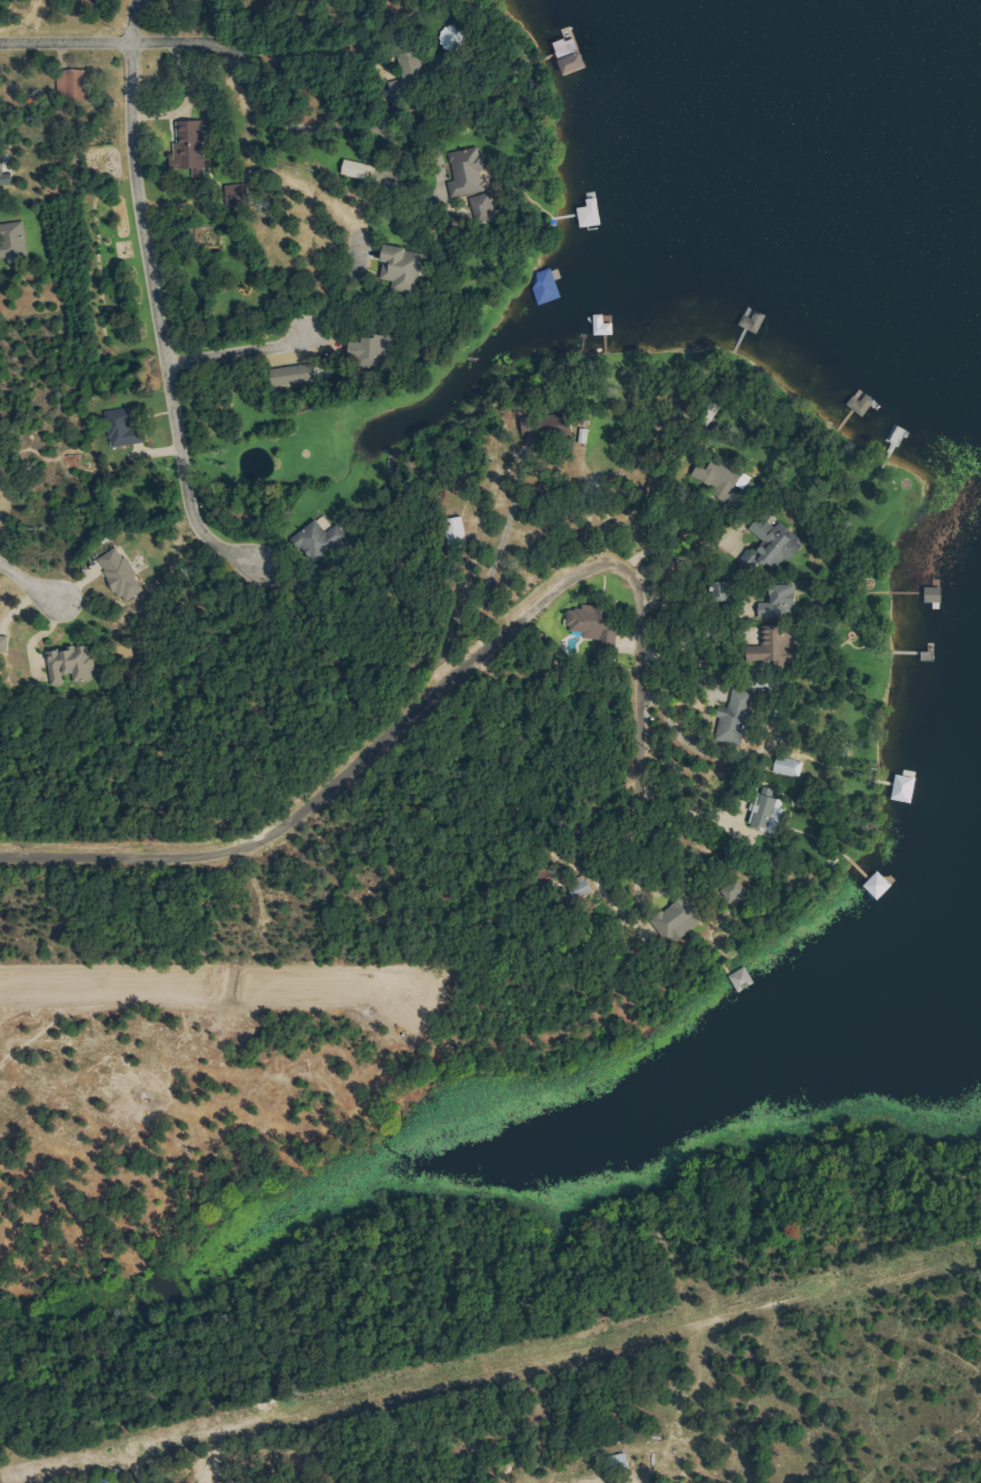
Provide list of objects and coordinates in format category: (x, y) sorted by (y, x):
road: (151, 41)
building: (574, 56)
building: (75, 83)
building: (192, 144)
building: (359, 170)
building: (470, 172)
building: (484, 205)
building: (593, 214)
building: (14, 241)
building: (404, 267)
building: (549, 287)
road: (151, 295)
building: (605, 326)
building: (373, 347)
road: (239, 352)
building: (292, 379)
building: (864, 404)
building: (127, 429)
building: (720, 475)
building: (779, 542)
building: (123, 574)
building: (726, 588)
building: (783, 600)
building: (590, 620)
building: (5, 643)
building: (779, 644)
building: (72, 663)
road: (423, 701)
building: (737, 717)
building: (907, 788)
building: (771, 813)
building: (681, 919)
building: (744, 979)

